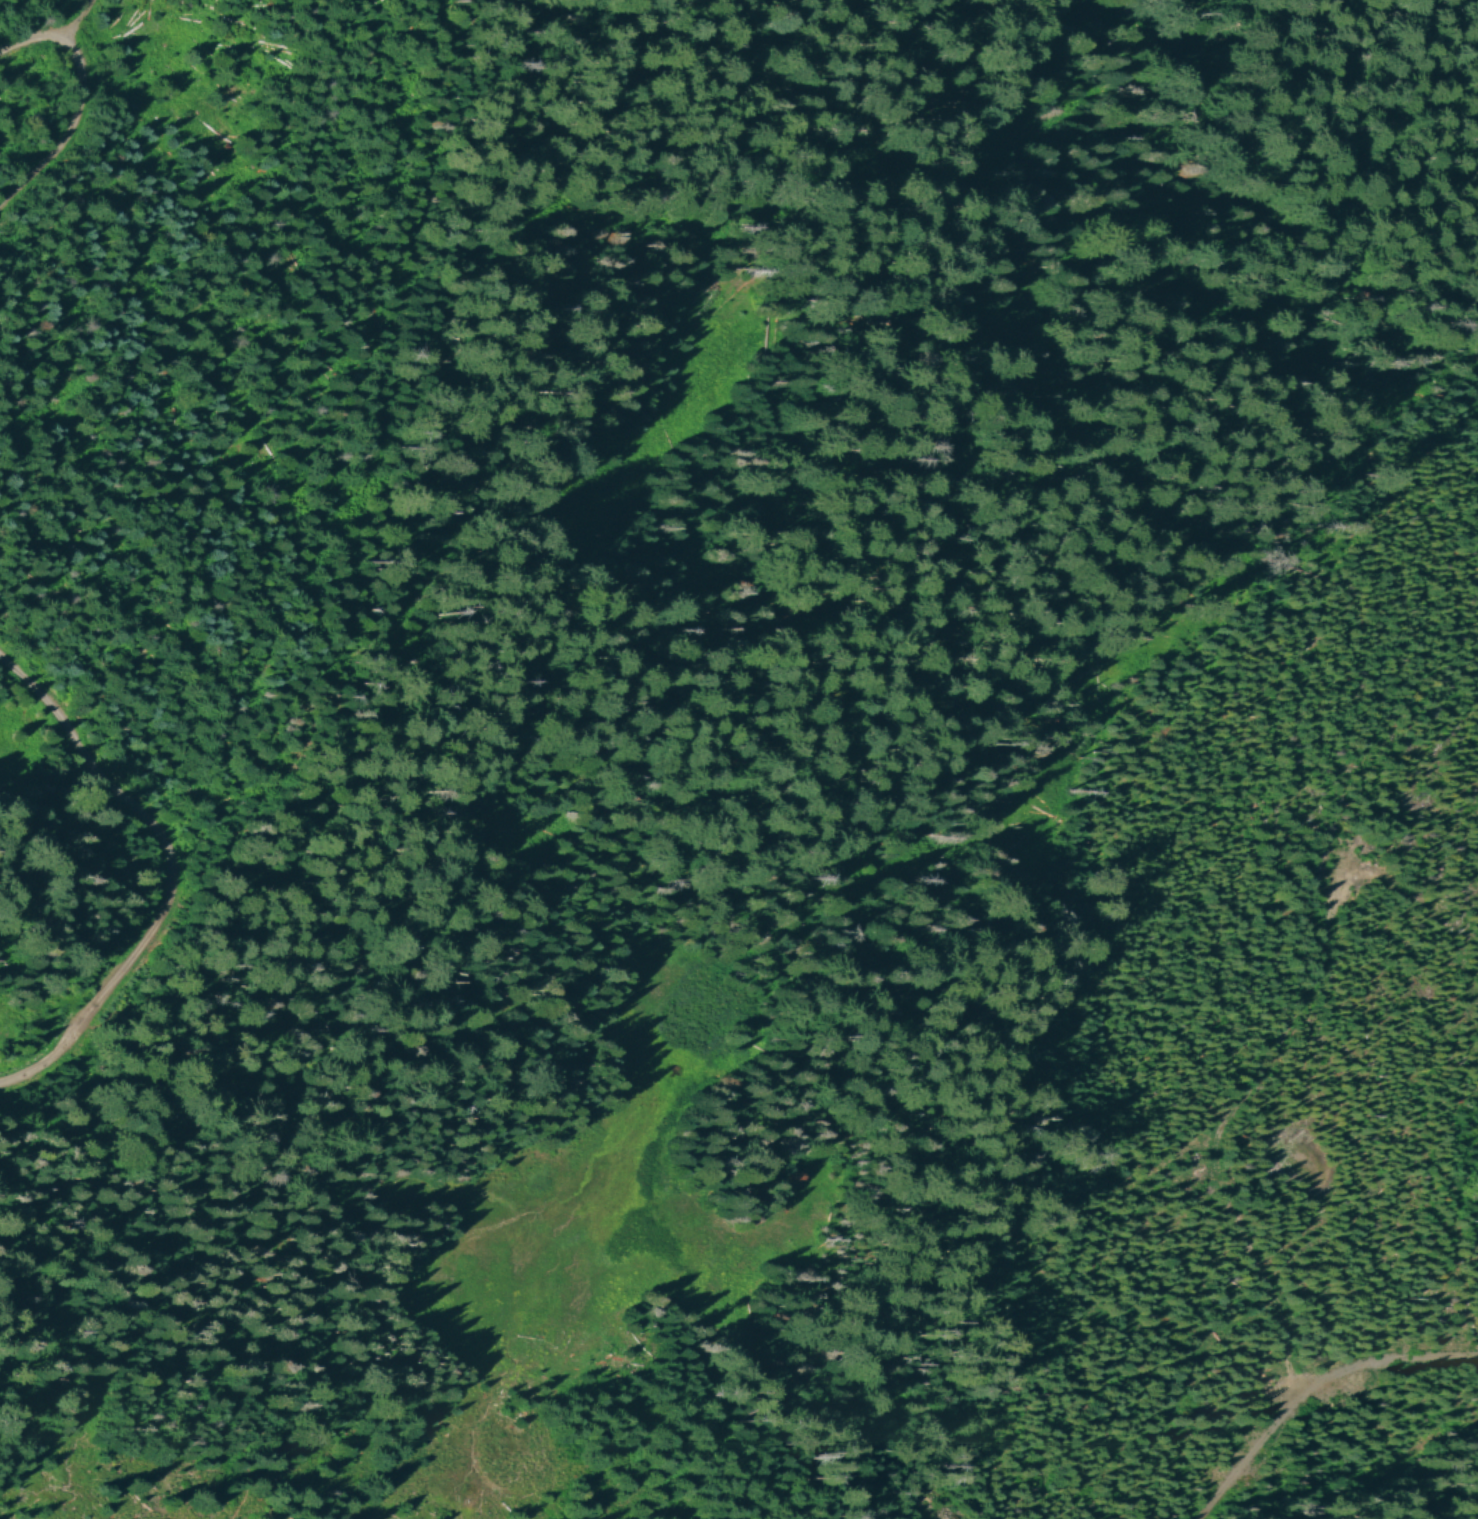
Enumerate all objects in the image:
road: (79, 25)
road: (74, 101)
road: (795, 795)
road: (165, 869)
road: (1206, 1133)
road: (1310, 1389)

